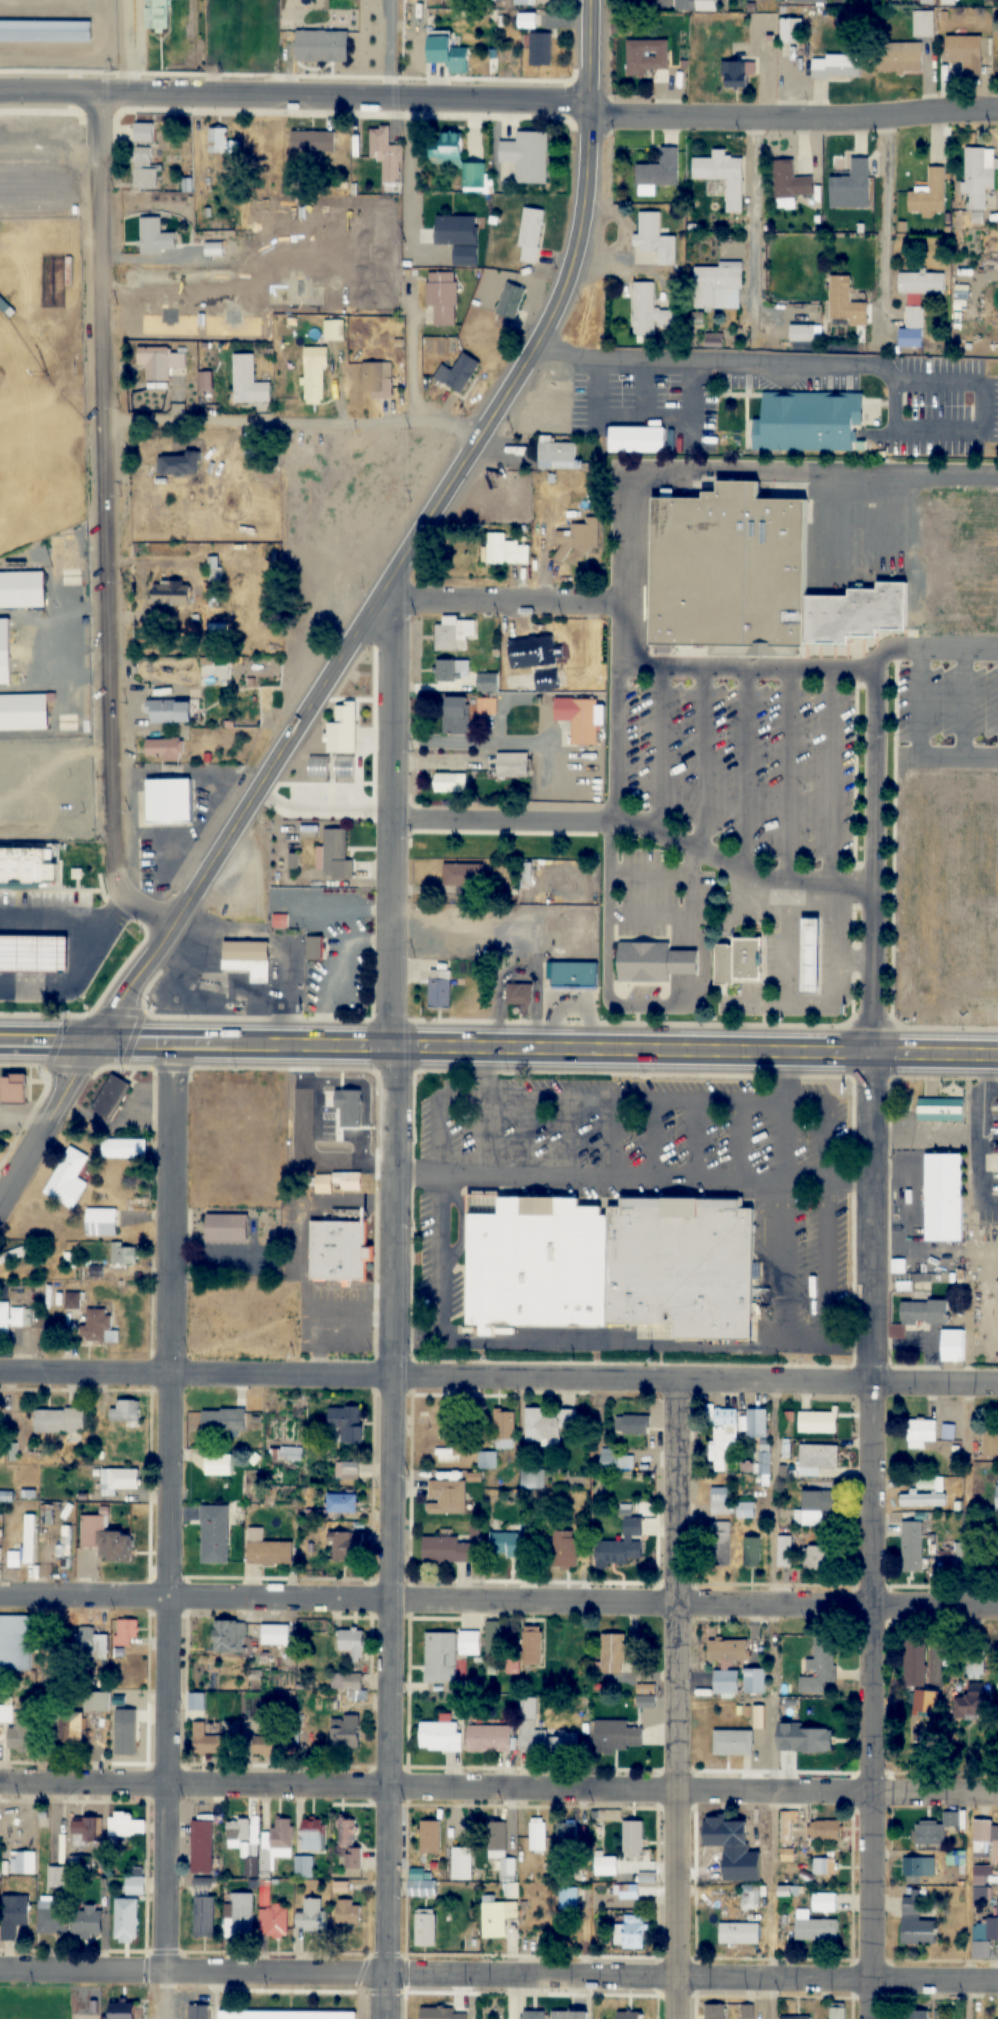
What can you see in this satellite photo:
building: (809, 1)
building: (532, 2)
building: (157, 14)
building: (526, 20)
building: (924, 23)
building: (791, 30)
building: (46, 31)
building: (322, 46)
road: (366, 48)
building: (540, 49)
building: (448, 53)
building: (966, 54)
building: (646, 56)
building: (899, 57)
building: (833, 66)
building: (737, 73)
road: (294, 95)
road: (793, 117)
building: (144, 133)
building: (222, 142)
building: (313, 142)
building: (446, 149)
building: (385, 155)
building: (528, 156)
building: (145, 169)
building: (658, 173)
building: (474, 176)
building: (723, 177)
building: (978, 179)
parking lot: (41, 180)
building: (791, 181)
building: (852, 187)
road: (393, 192)
building: (929, 194)
road: (869, 229)
building: (531, 235)
building: (154, 237)
building: (655, 240)
road: (733, 246)
building: (215, 249)
building: (55, 281)
building: (718, 286)
building: (443, 297)
building: (845, 301)
building: (511, 302)
road: (249, 303)
building: (917, 304)
building: (648, 311)
building: (802, 333)
building: (785, 336)
building: (893, 341)
road: (394, 349)
building: (161, 362)
road: (746, 366)
building: (964, 371)
building: (458, 373)
building: (315, 376)
building: (377, 380)
building: (248, 382)
road: (629, 389)
parking lot: (665, 400)
road: (965, 409)
parking lot: (924, 411)
road: (623, 415)
road: (289, 422)
building: (791, 424)
building: (732, 438)
building: (621, 444)
building: (843, 448)
park: (37, 449)
building: (557, 455)
building: (178, 464)
building: (544, 482)
road: (107, 530)
building: (577, 538)
road: (401, 539)
building: (506, 550)
crop: (950, 566)
building: (713, 576)
road: (614, 582)
building: (22, 591)
building: (172, 592)
road: (497, 602)
building: (841, 618)
building: (455, 634)
building: (5, 652)
building: (534, 652)
building: (453, 671)
building: (547, 681)
building: (488, 683)
parking lot: (939, 705)
building: (487, 707)
road: (947, 707)
road: (991, 707)
building: (168, 711)
building: (24, 712)
building: (456, 715)
building: (582, 719)
road: (601, 745)
building: (164, 749)
road: (642, 752)
road: (903, 753)
road: (687, 761)
building: (513, 765)
road: (729, 772)
building: (450, 783)
parking lot: (710, 783)
building: (152, 804)
road: (815, 817)
road: (622, 829)
building: (336, 856)
road: (855, 864)
building: (18, 871)
building: (464, 874)
building: (526, 875)
building: (443, 876)
crop: (940, 899)
road: (772, 900)
parking lot: (37, 903)
road: (317, 914)
road: (635, 918)
road: (46, 925)
road: (335, 945)
building: (314, 948)
building: (24, 956)
building: (791, 956)
building: (811, 957)
building: (249, 958)
parking lot: (756, 958)
building: (655, 962)
building: (730, 962)
building: (706, 966)
road: (66, 969)
road: (320, 972)
road: (501, 978)
building: (558, 978)
building: (73, 986)
parking lot: (318, 986)
building: (440, 989)
building: (519, 993)
road: (626, 1009)
road: (49, 1043)
road: (547, 1050)
building: (14, 1088)
building: (92, 1097)
building: (111, 1098)
road: (543, 1099)
building: (941, 1110)
road: (769, 1120)
road: (46, 1122)
road: (473, 1137)
road: (511, 1138)
road: (557, 1139)
road: (596, 1140)
road: (639, 1142)
road: (679, 1143)
road: (724, 1144)
building: (124, 1148)
road: (963, 1149)
parking lot: (628, 1175)
building: (68, 1179)
road: (616, 1180)
building: (337, 1182)
building: (928, 1202)
building: (102, 1222)
building: (209, 1233)
building: (16, 1254)
building: (125, 1254)
building: (322, 1255)
building: (611, 1267)
building: (70, 1301)
road: (380, 1303)
building: (924, 1312)
building: (9, 1317)
building: (96, 1325)
building: (953, 1346)
building: (937, 1352)
road: (79, 1375)
road: (230, 1376)
road: (341, 1377)
road: (689, 1381)
building: (126, 1412)
building: (58, 1420)
building: (223, 1421)
building: (348, 1422)
building: (817, 1422)
building: (757, 1423)
building: (548, 1424)
building: (633, 1424)
building: (505, 1428)
building: (923, 1430)
building: (949, 1432)
building: (724, 1436)
building: (990, 1441)
building: (446, 1445)
building: (291, 1453)
building: (817, 1459)
building: (488, 1460)
building: (616, 1460)
building: (219, 1464)
building: (765, 1464)
building: (346, 1469)
building: (533, 1479)
building: (119, 1481)
road: (970, 1495)
building: (6, 1496)
building: (447, 1497)
building: (923, 1500)
building: (722, 1501)
building: (342, 1503)
building: (816, 1507)
road: (160, 1509)
building: (746, 1510)
building: (717, 1533)
building: (215, 1534)
road: (854, 1538)
building: (105, 1539)
building: (513, 1543)
building: (26, 1545)
building: (343, 1546)
building: (623, 1546)
building: (913, 1546)
building: (66, 1547)
building: (566, 1547)
building: (266, 1548)
building: (447, 1551)
building: (785, 1552)
building: (958, 1553)
building: (821, 1557)
building: (990, 1560)
road: (499, 1602)
building: (126, 1632)
building: (230, 1636)
building: (495, 1638)
building: (277, 1643)
building: (353, 1643)
building: (469, 1643)
building: (16, 1644)
building: (92, 1645)
building: (532, 1646)
building: (728, 1651)
building: (613, 1654)
building: (441, 1657)
building: (916, 1659)
building: (974, 1664)
building: (821, 1667)
building: (347, 1682)
building: (726, 1683)
road: (681, 1700)
road: (775, 1700)
building: (97, 1701)
building: (926, 1701)
building: (197, 1702)
building: (969, 1705)
building: (528, 1716)
building: (71, 1729)
building: (346, 1732)
building: (20, 1735)
building: (441, 1736)
building: (617, 1737)
building: (293, 1738)
building: (490, 1738)
building: (206, 1741)
building: (806, 1741)
building: (734, 1743)
road: (499, 1792)
building: (127, 1826)
building: (786, 1826)
building: (87, 1829)
building: (937, 1829)
building: (826, 1831)
building: (237, 1832)
building: (717, 1833)
building: (312, 1834)
building: (538, 1835)
building: (566, 1835)
building: (431, 1837)
building: (993, 1837)
building: (633, 1840)
building: (350, 1841)
building: (276, 1843)
building: (202, 1846)
building: (501, 1848)
building: (957, 1858)
building: (23, 1863)
building: (462, 1863)
building: (81, 1864)
building: (825, 1866)
building: (304, 1867)
building: (920, 1870)
building: (57, 1878)
building: (422, 1883)
building: (135, 1885)
building: (511, 1890)
building: (982, 1890)
building: (629, 1892)
building: (569, 1898)
building: (753, 1900)
building: (824, 1902)
road: (970, 1908)
building: (349, 1913)
building: (14, 1915)
building: (53, 1916)
building: (272, 1916)
building: (311, 1916)
building: (204, 1917)
building: (499, 1917)
building: (127, 1920)
building: (243, 1920)
building: (917, 1920)
building: (87, 1922)
building: (426, 1927)
building: (815, 1927)
building: (757, 1930)
building: (631, 1932)
building: (984, 1938)
road: (499, 1976)
building: (123, 2011)
building: (199, 2011)
building: (716, 2011)
building: (748, 2012)
building: (838, 2012)
building: (285, 2014)
building: (534, 2015)
building: (570, 2015)
building: (629, 2015)
building: (917, 2015)
building: (796, 2018)

